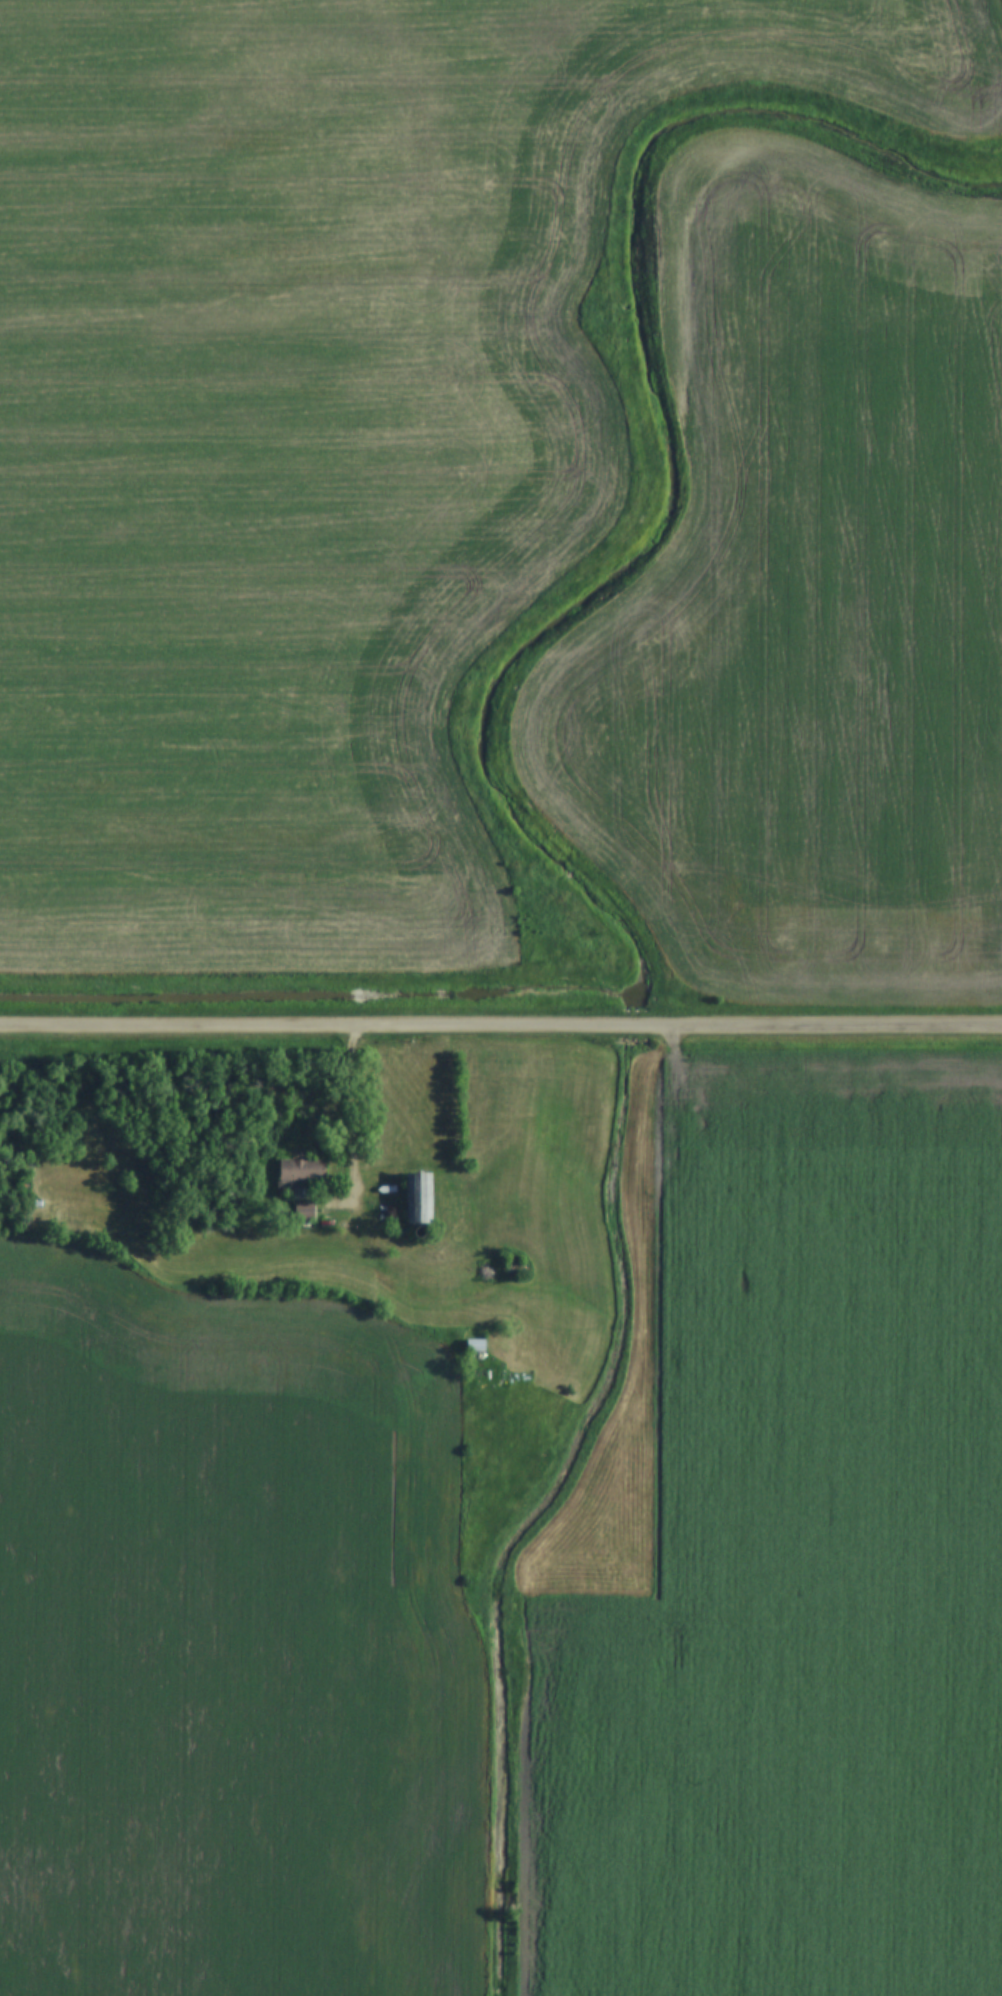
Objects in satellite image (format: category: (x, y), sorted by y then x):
road: (500, 1028)
road: (360, 1116)
building: (299, 1173)
building: (418, 1197)
building: (304, 1212)
building: (475, 1345)

